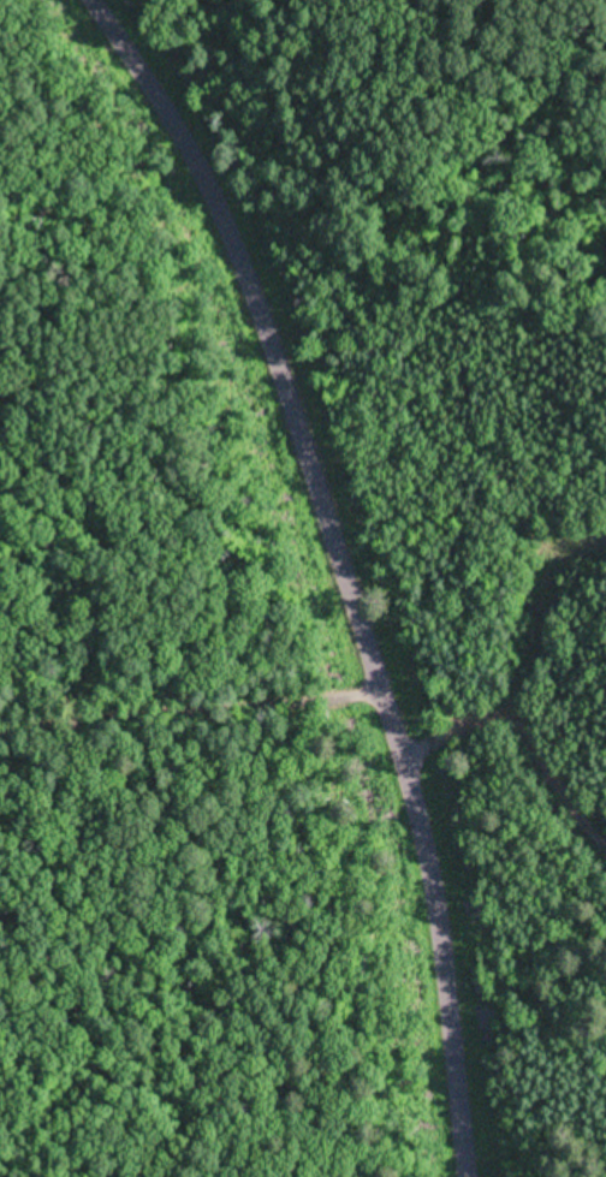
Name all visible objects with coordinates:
road: (338, 571)
road: (188, 720)

